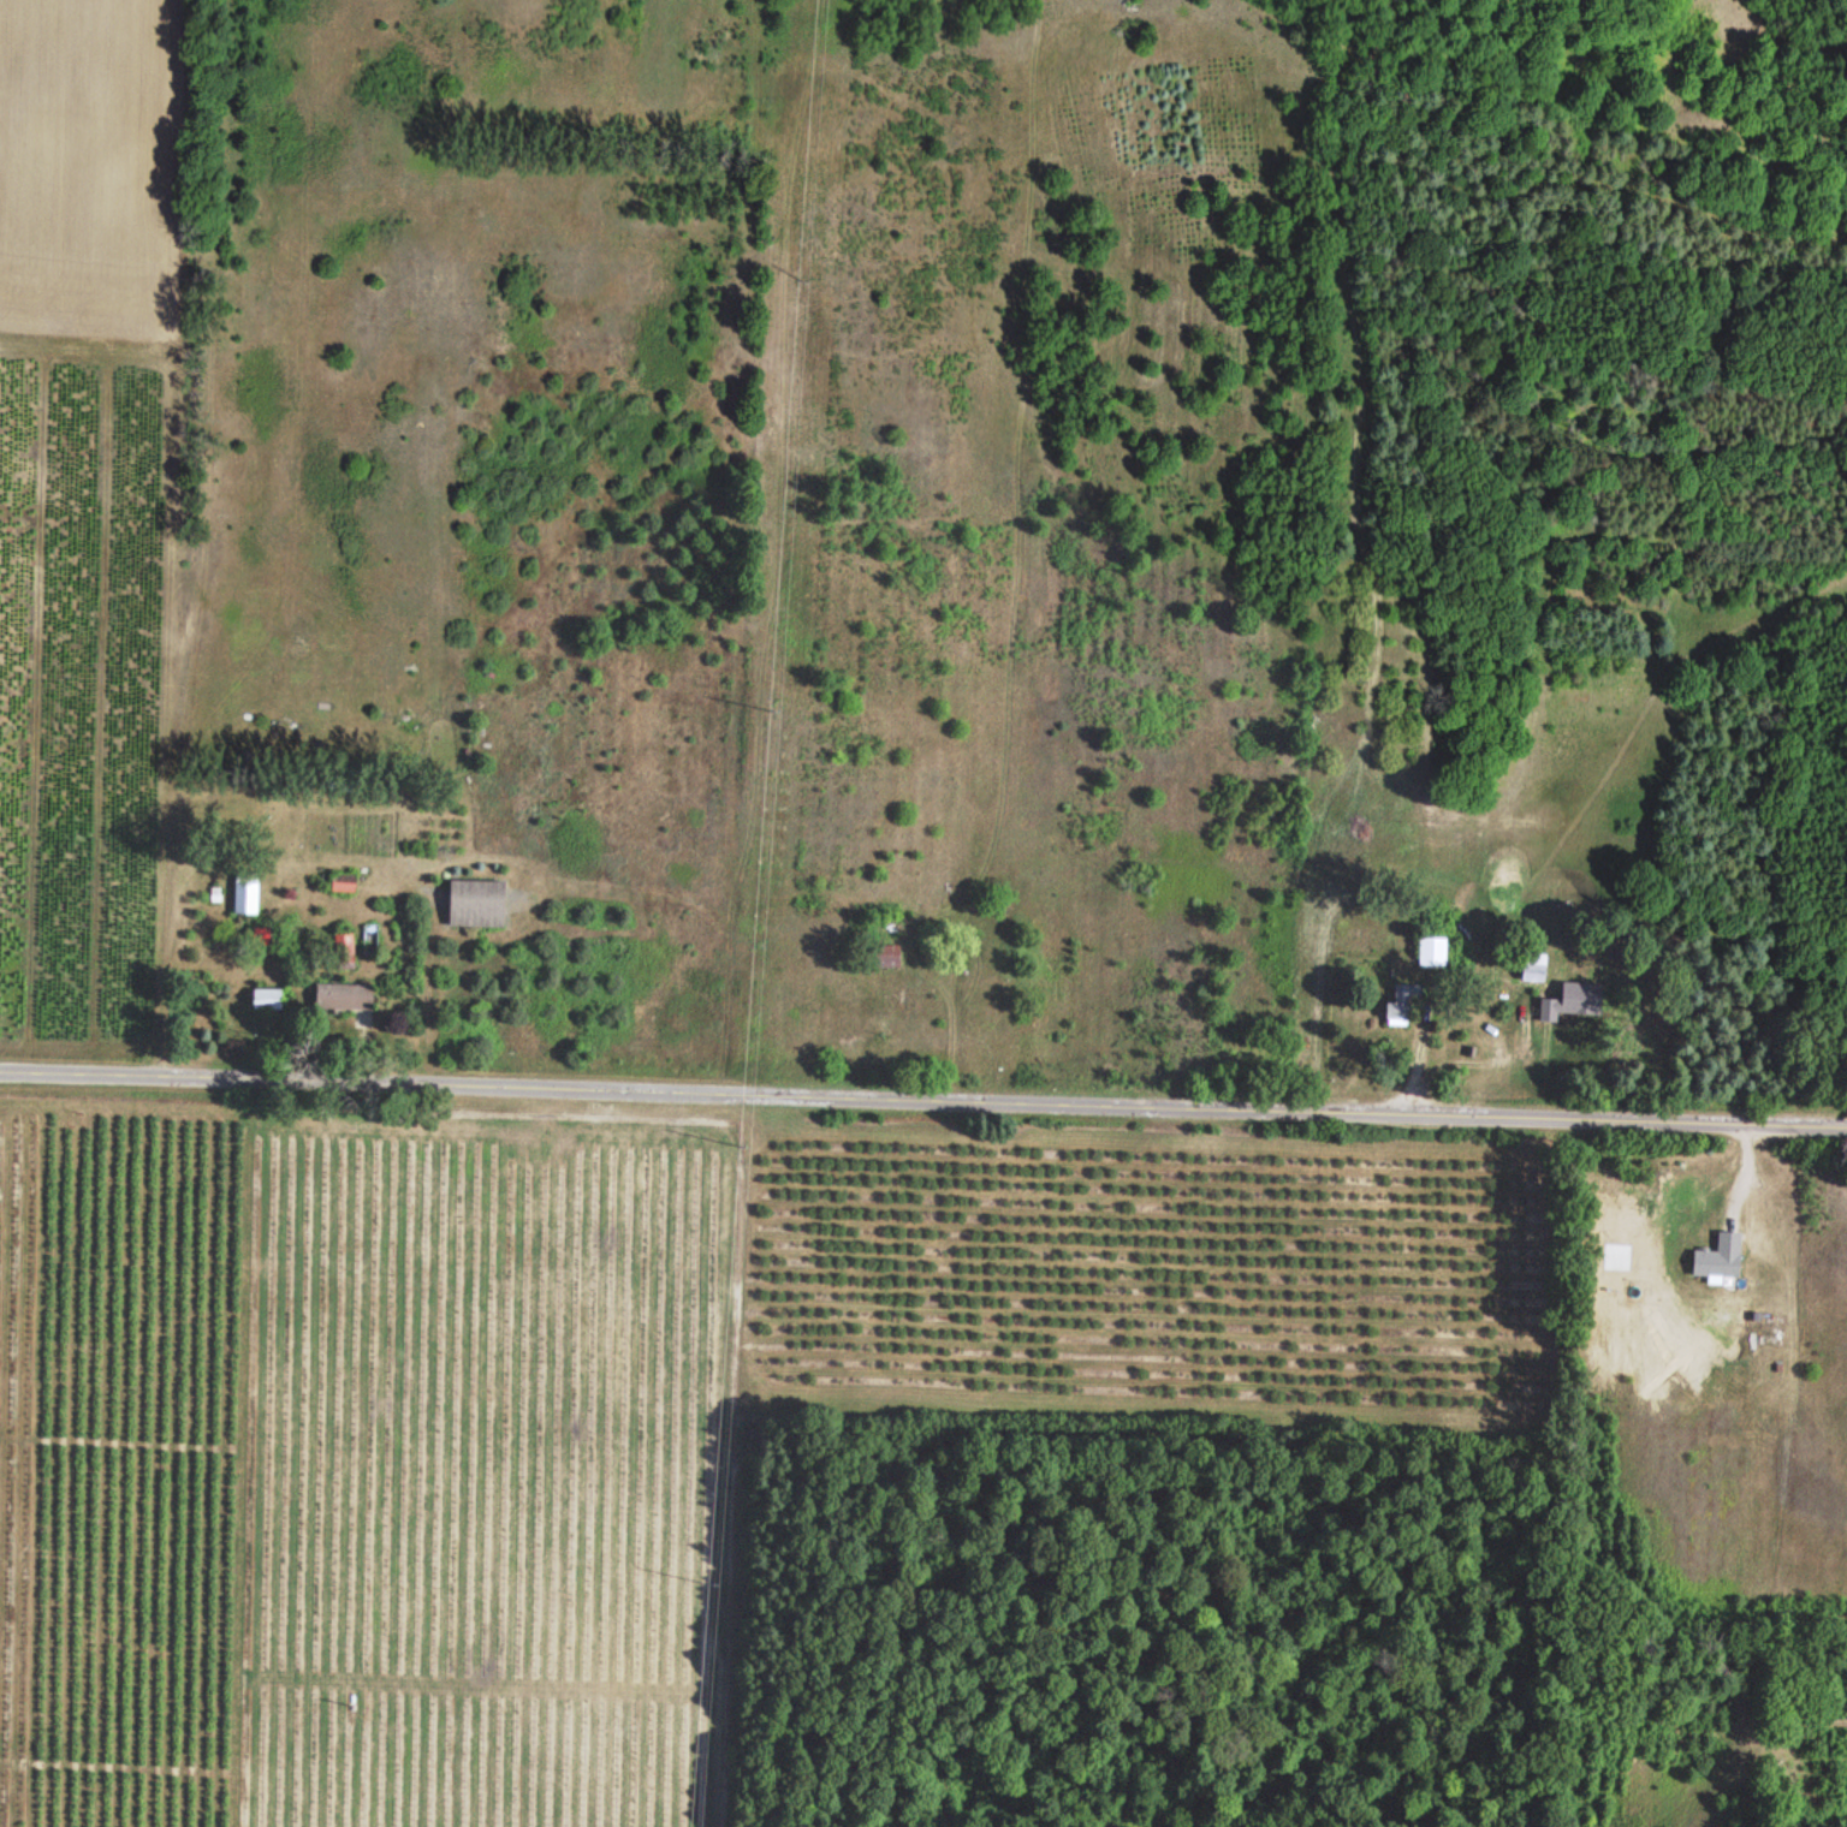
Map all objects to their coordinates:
building: (340, 883)
building: (243, 894)
building: (471, 904)
building: (342, 952)
building: (1430, 953)
building: (884, 956)
building: (1531, 969)
building: (340, 996)
building: (263, 1000)
building: (1398, 1006)
road: (923, 1101)
building: (1716, 1258)

